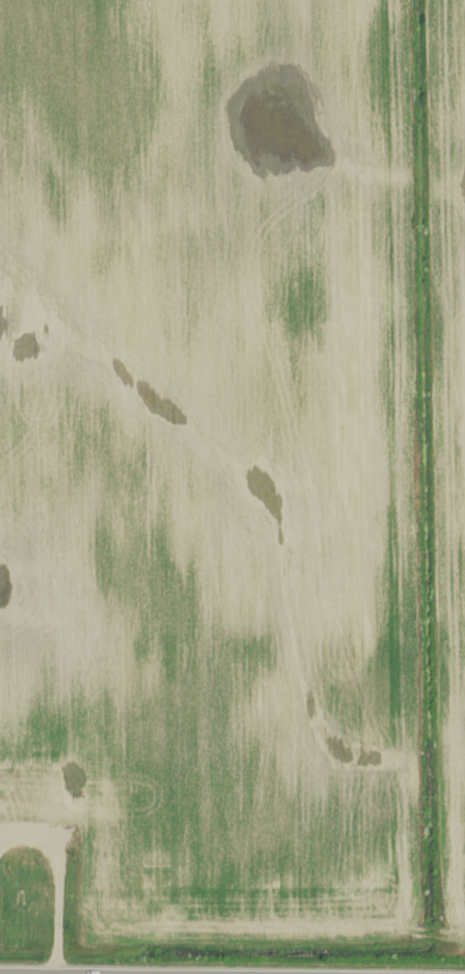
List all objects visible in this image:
building: (43, 799)

